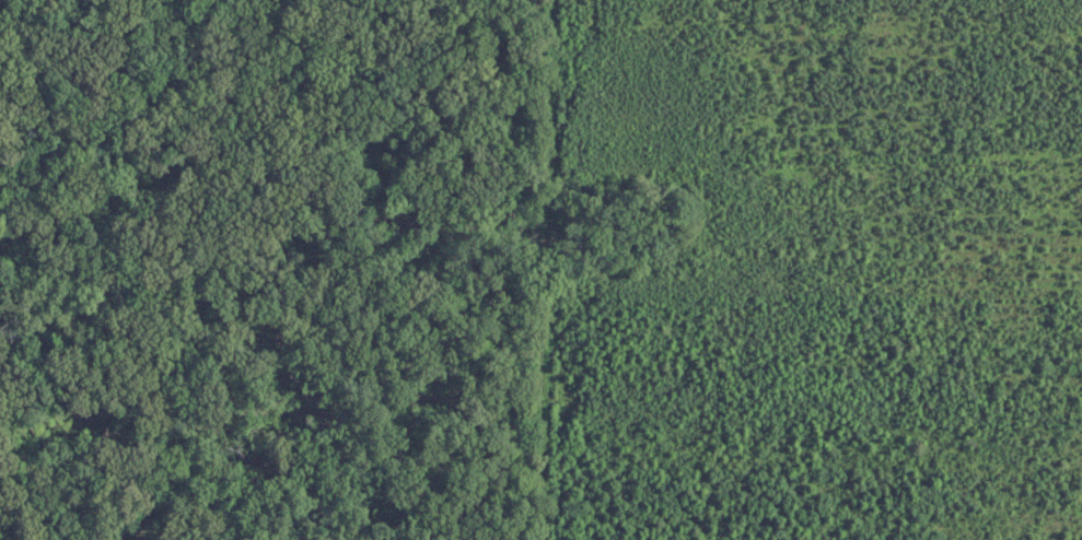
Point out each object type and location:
road: (557, 270)

